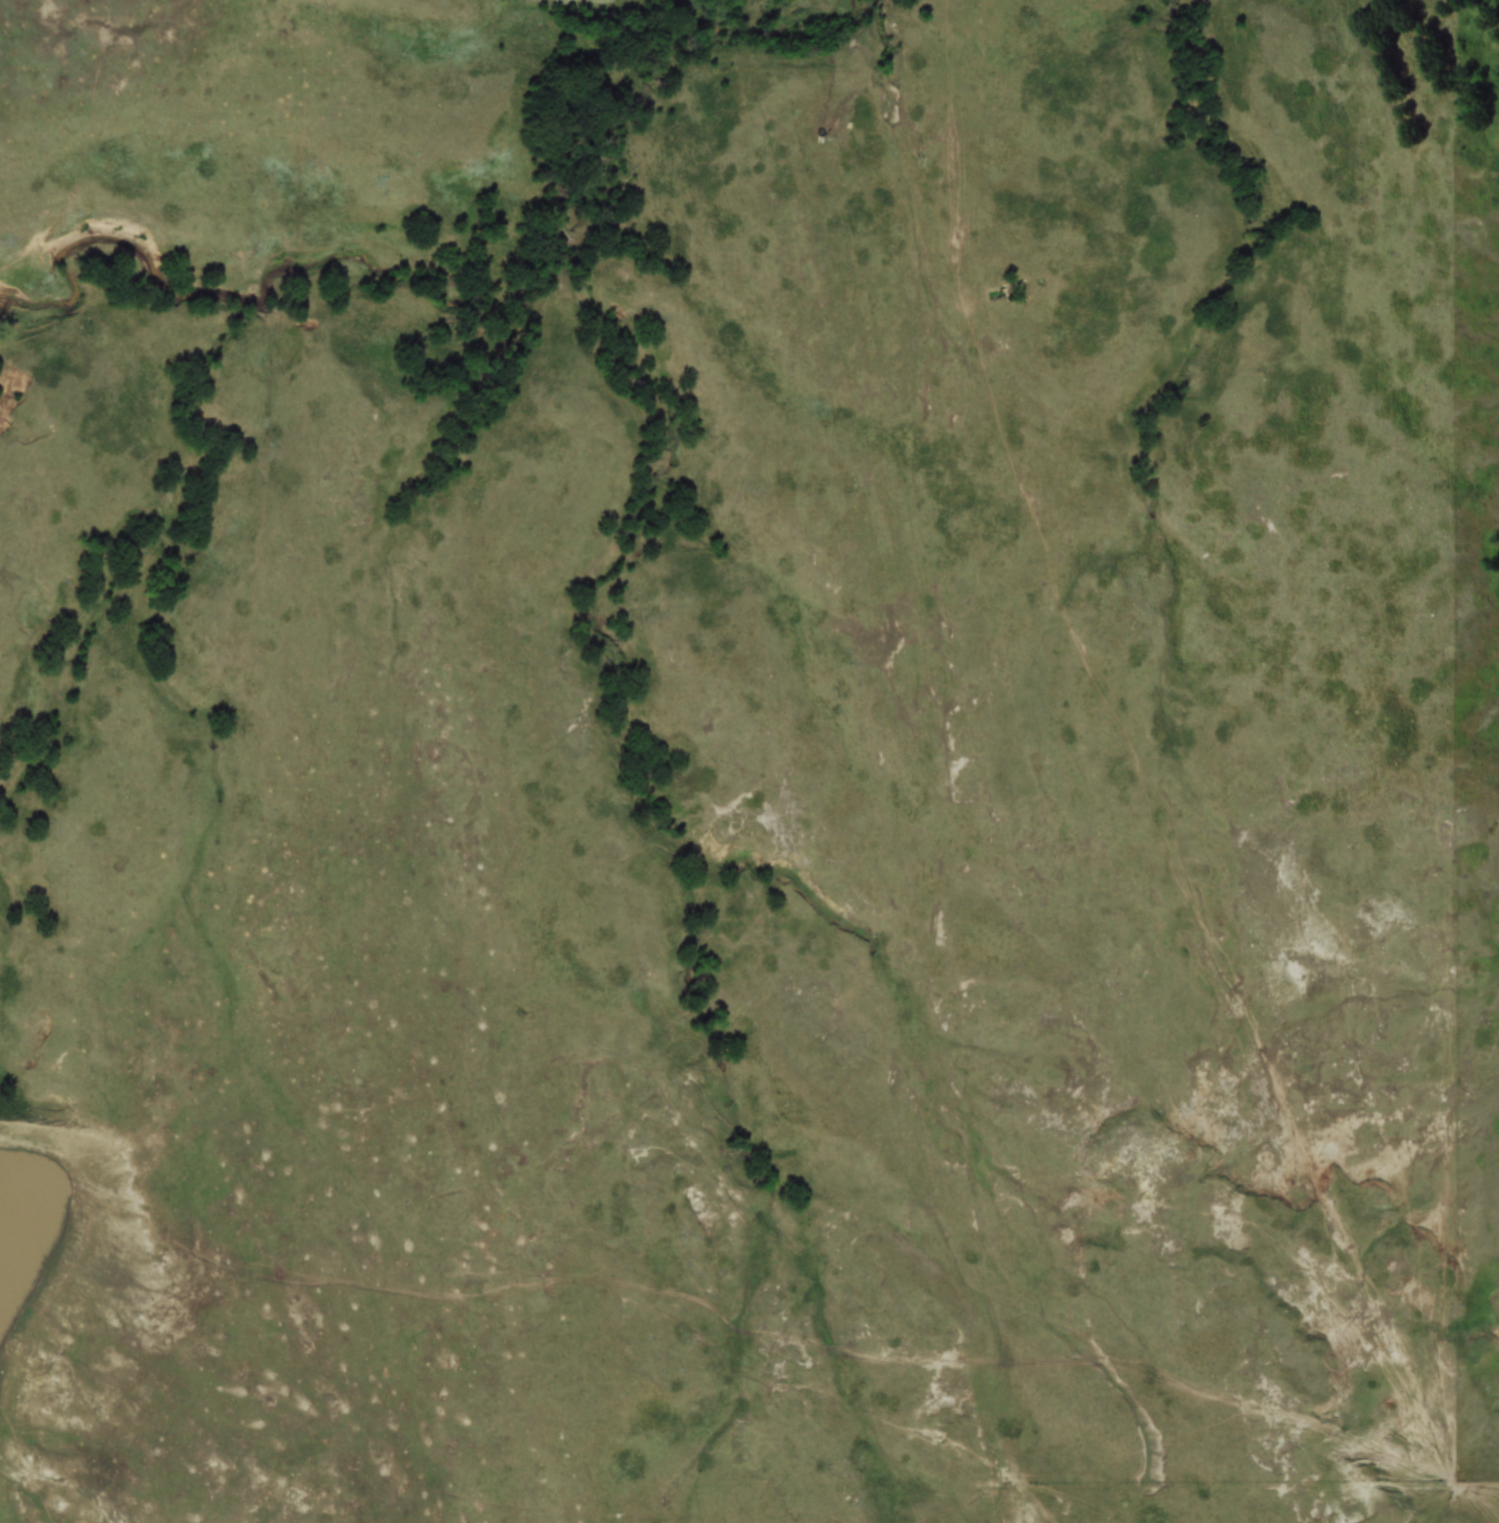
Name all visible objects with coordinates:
dam: (56, 1135)
road: (158, 1227)

